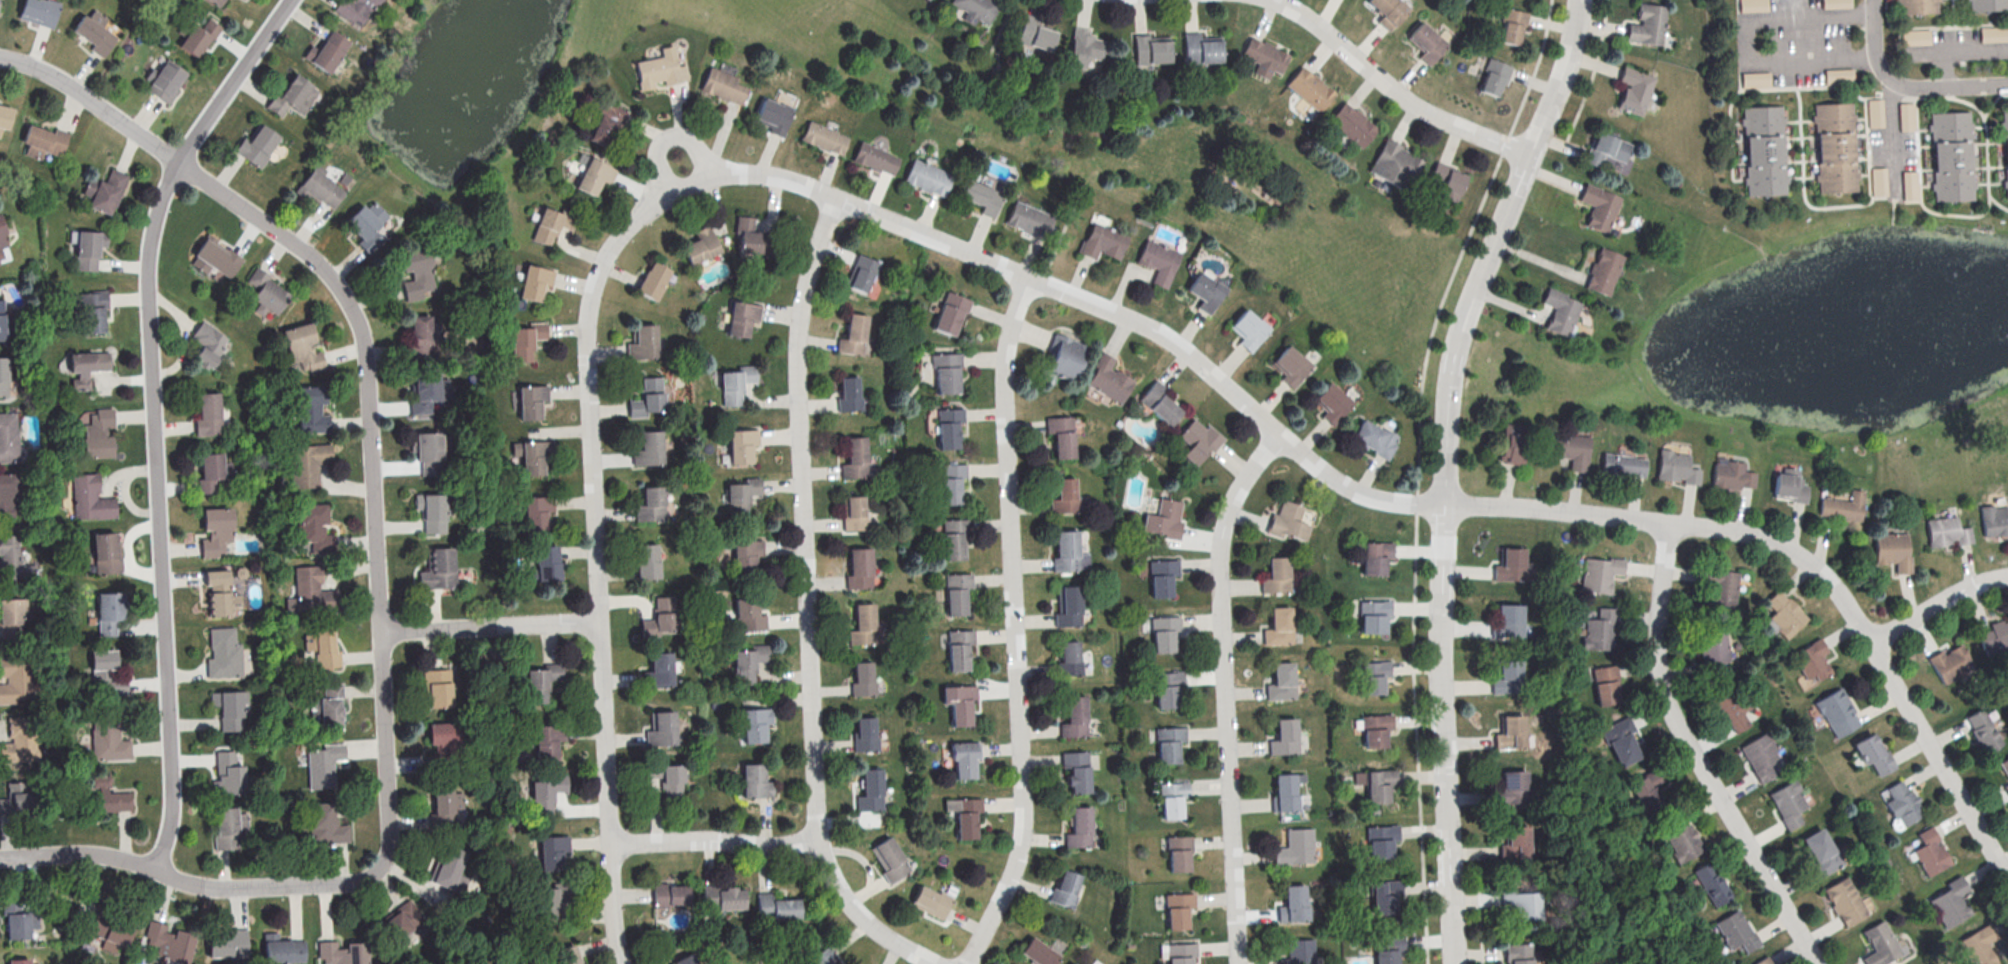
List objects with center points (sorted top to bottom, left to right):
building: (928, 0)
building: (218, 1)
building: (1836, 3)
building: (1753, 5)
building: (1987, 5)
building: (1915, 7)
building: (977, 8)
building: (356, 9)
building: (40, 11)
building: (1388, 11)
building: (1647, 24)
building: (1512, 25)
building: (95, 31)
building: (1036, 33)
building: (1992, 34)
building: (1916, 36)
building: (199, 37)
road: (1874, 37)
building: (1427, 42)
road: (1746, 45)
building: (1085, 47)
building: (1152, 49)
building: (1201, 49)
building: (327, 51)
building: (1265, 54)
road: (1967, 54)
building: (661, 69)
road: (1594, 70)
building: (1841, 76)
building: (1495, 77)
building: (1756, 79)
building: (167, 80)
road: (1946, 85)
building: (721, 87)
building: (1310, 88)
road: (1395, 88)
building: (1635, 90)
building: (296, 96)
road: (1020, 101)
building: (1876, 112)
building: (5, 115)
building: (774, 116)
building: (1908, 116)
building: (606, 122)
building: (1352, 124)
road: (1892, 132)
building: (822, 139)
building: (44, 141)
building: (257, 144)
road: (698, 147)
park: (1012, 147)
building: (1833, 148)
building: (1606, 150)
building: (2004, 151)
building: (1762, 152)
building: (1949, 158)
building: (873, 162)
road: (658, 163)
building: (1396, 164)
building: (594, 175)
building: (926, 179)
building: (1449, 180)
building: (1879, 184)
building: (1911, 185)
building: (321, 186)
building: (105, 191)
building: (981, 196)
building: (1600, 207)
building: (1028, 221)
building: (553, 224)
building: (368, 225)
building: (750, 236)
building: (2, 242)
building: (1102, 243)
building: (701, 245)
building: (89, 248)
building: (214, 260)
building: (1157, 263)
building: (1603, 270)
building: (417, 271)
building: (862, 273)
building: (653, 280)
building: (535, 282)
building: (265, 291)
building: (1205, 291)
building: (92, 310)
building: (1560, 311)
building: (950, 313)
building: (738, 317)
building: (2, 320)
building: (1248, 331)
building: (853, 334)
building: (419, 336)
building: (526, 340)
building: (640, 341)
building: (208, 343)
building: (303, 347)
building: (1065, 355)
building: (1289, 364)
building: (86, 367)
road: (588, 367)
building: (945, 372)
building: (3, 376)
building: (1109, 379)
building: (731, 387)
building: (429, 392)
building: (846, 395)
building: (648, 396)
building: (531, 400)
building: (1333, 402)
building: (1160, 403)
building: (311, 409)
building: (208, 414)
road: (156, 416)
building: (946, 428)
building: (98, 433)
building: (8, 436)
building: (1059, 436)
building: (1375, 437)
building: (1198, 441)
building: (1511, 442)
building: (739, 444)
building: (646, 448)
building: (1570, 449)
building: (428, 451)
building: (852, 456)
building: (532, 457)
building: (307, 463)
building: (1622, 465)
building: (1672, 467)
building: (228, 470)
road: (1418, 470)
road: (1445, 470)
building: (210, 471)
building: (1731, 474)
building: (949, 483)
building: (1786, 484)
building: (6, 494)
building: (1061, 496)
building: (90, 497)
building: (736, 498)
road: (1410, 499)
building: (649, 504)
building: (1841, 505)
building: (537, 511)
building: (431, 512)
building: (851, 513)
building: (1165, 519)
building: (1288, 521)
building: (1853, 524)
building: (314, 527)
building: (216, 530)
building: (1947, 531)
building: (952, 537)
building: (1892, 549)
building: (1063, 551)
building: (106, 552)
building: (743, 553)
building: (1376, 557)
building: (12, 558)
building: (647, 560)
building: (547, 562)
road: (376, 563)
building: (1512, 565)
building: (857, 568)
building: (438, 569)
building: (1275, 574)
building: (1597, 574)
building: (1160, 577)
building: (310, 591)
building: (220, 593)
building: (955, 593)
road: (1936, 603)
road: (806, 606)
building: (1066, 606)
building: (108, 611)
building: (745, 615)
building: (1375, 615)
building: (1784, 615)
building: (661, 616)
building: (11, 617)
building: (1505, 620)
building: (860, 623)
road: (1013, 623)
road: (489, 625)
building: (1277, 625)
building: (1599, 630)
building: (1162, 634)
building: (323, 647)
building: (957, 649)
building: (1712, 650)
building: (223, 653)
building: (1070, 657)
building: (1812, 661)
building: (1949, 662)
building: (743, 663)
building: (656, 671)
building: (107, 672)
building: (1372, 676)
building: (1505, 677)
building: (13, 678)
building: (863, 679)
building: (1280, 680)
building: (537, 685)
building: (437, 687)
building: (1165, 688)
road: (1226, 691)
building: (1606, 692)
building: (960, 704)
building: (330, 706)
building: (1730, 708)
building: (228, 709)
building: (314, 710)
building: (1838, 712)
building: (1072, 716)
building: (753, 722)
building: (659, 728)
building: (1373, 730)
building: (1983, 730)
building: (1509, 733)
building: (864, 734)
building: (1283, 735)
building: (18, 736)
building: (108, 736)
building: (443, 737)
building: (548, 740)
building: (1618, 741)
building: (1167, 745)
building: (1874, 752)
road: (1693, 755)
building: (1759, 758)
building: (963, 761)
building: (323, 764)
building: (2004, 765)
building: (1077, 770)
building: (228, 772)
building: (673, 781)
building: (755, 781)
building: (1376, 785)
building: (2006, 786)
building: (1510, 787)
building: (868, 790)
building: (1282, 791)
building: (546, 792)
road: (607, 792)
building: (108, 796)
building: (1171, 799)
building: (1904, 799)
building: (13, 805)
building: (445, 805)
building: (1788, 805)
building: (965, 818)
building: (326, 824)
building: (1077, 827)
building: (226, 828)
building: (1679, 836)
building: (1378, 840)
road: (715, 841)
building: (1513, 842)
building: (1294, 846)
building: (553, 851)
building: (1817, 851)
building: (1929, 852)
building: (1176, 853)
building: (891, 859)
building: (449, 869)
building: (1713, 882)
building: (1066, 888)
building: (671, 894)
building: (1382, 895)
building: (722, 897)
building: (1843, 900)
building: (1948, 900)
building: (552, 901)
building: (932, 901)
building: (1291, 901)
building: (1523, 904)
building: (778, 906)
building: (1176, 910)
road: (1480, 918)
building: (404, 919)
building: (21, 924)
building: (1733, 930)
building: (108, 933)
building: (168, 943)
building: (228, 943)
building: (1879, 944)
building: (1977, 945)
building: (1384, 947)
building: (282, 948)
building: (1296, 951)
building: (1036, 952)
building: (1179, 952)
building: (341, 953)
building: (1515, 953)
building: (18, 961)
building: (690, 961)
building: (1759, 961)
building: (830, 962)
building: (1070, 963)
building: (1073, 963)
building: (1770, 963)

